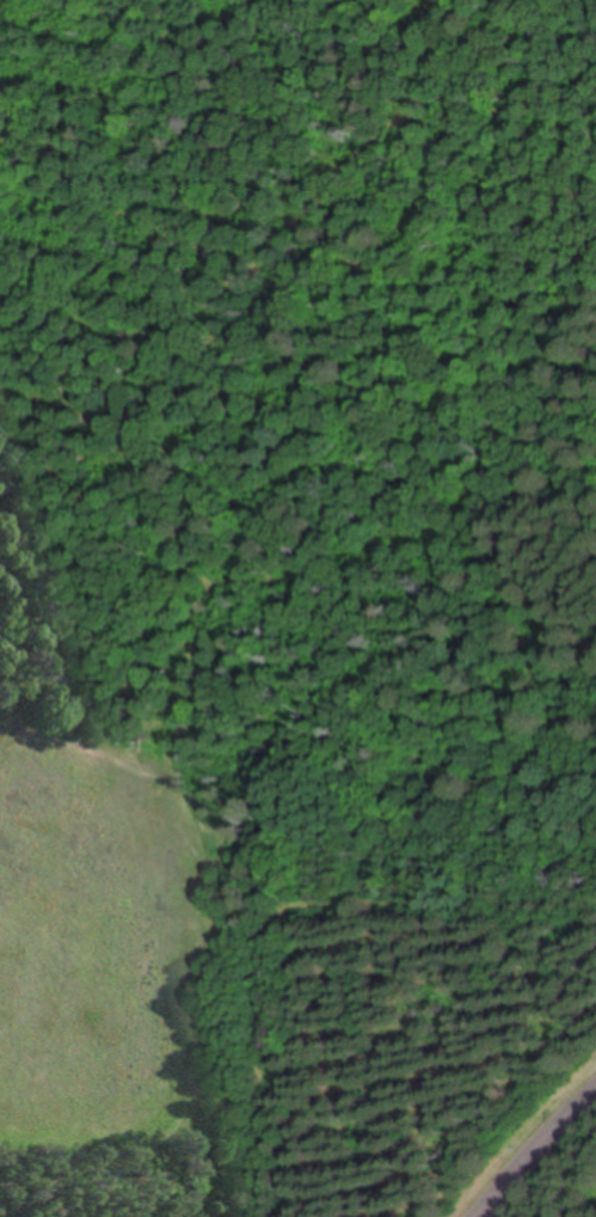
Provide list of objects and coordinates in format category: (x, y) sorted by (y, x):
road: (537, 1154)

